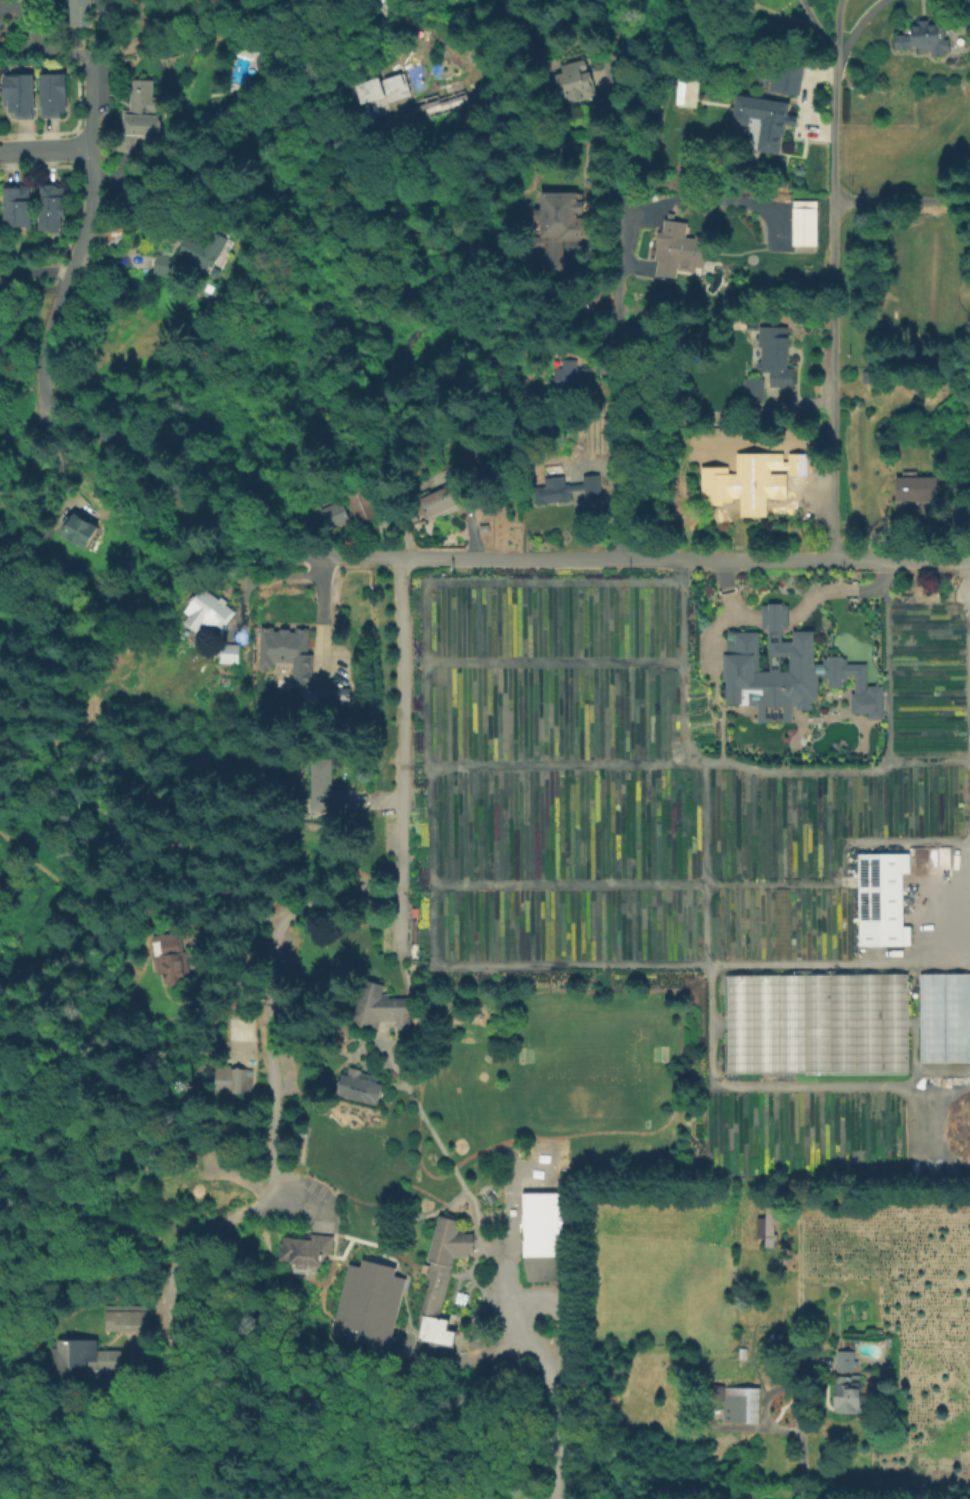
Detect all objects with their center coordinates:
building: (384, 4)
building: (86, 18)
road: (855, 24)
road: (815, 25)
building: (969, 28)
building: (923, 37)
road: (35, 42)
building: (784, 77)
building: (577, 84)
building: (385, 87)
building: (23, 88)
building: (56, 92)
building: (440, 107)
building: (141, 115)
building: (765, 121)
road: (45, 147)
road: (92, 170)
road: (900, 201)
building: (17, 203)
building: (56, 203)
building: (0, 215)
building: (566, 221)
building: (802, 222)
building: (670, 249)
building: (202, 250)
building: (162, 265)
road: (620, 278)
road: (832, 279)
building: (596, 296)
building: (777, 356)
building: (572, 377)
building: (755, 390)
building: (483, 453)
building: (801, 463)
building: (425, 485)
building: (592, 487)
building: (756, 487)
building: (917, 488)
building: (553, 491)
building: (357, 494)
building: (441, 500)
building: (491, 511)
building: (334, 514)
building: (294, 516)
building: (80, 530)
road: (421, 553)
building: (209, 613)
building: (287, 651)
building: (227, 653)
road: (886, 660)
building: (778, 676)
building: (324, 700)
road: (403, 750)
road: (733, 763)
building: (327, 789)
building: (363, 817)
building: (883, 900)
building: (168, 956)
building: (378, 1006)
building: (944, 1019)
building: (815, 1025)
building: (230, 1078)
building: (356, 1085)
building: (324, 1168)
building: (765, 1226)
building: (540, 1235)
building: (302, 1248)
building: (442, 1279)
building: (366, 1303)
building: (128, 1320)
building: (878, 1333)
building: (742, 1353)
building: (86, 1356)
building: (846, 1361)
road: (549, 1375)
building: (717, 1381)
building: (852, 1396)
building: (737, 1403)
road: (800, 1447)

